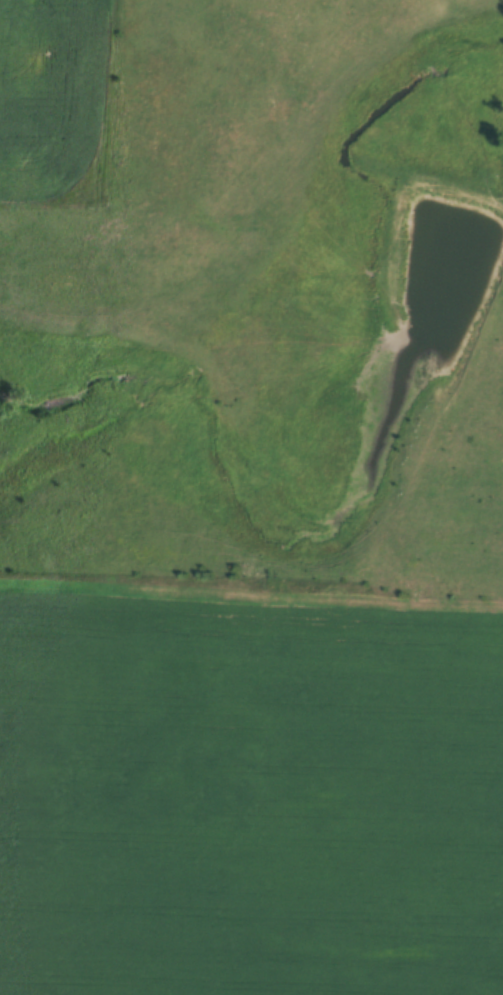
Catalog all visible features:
river: (437, 278)

